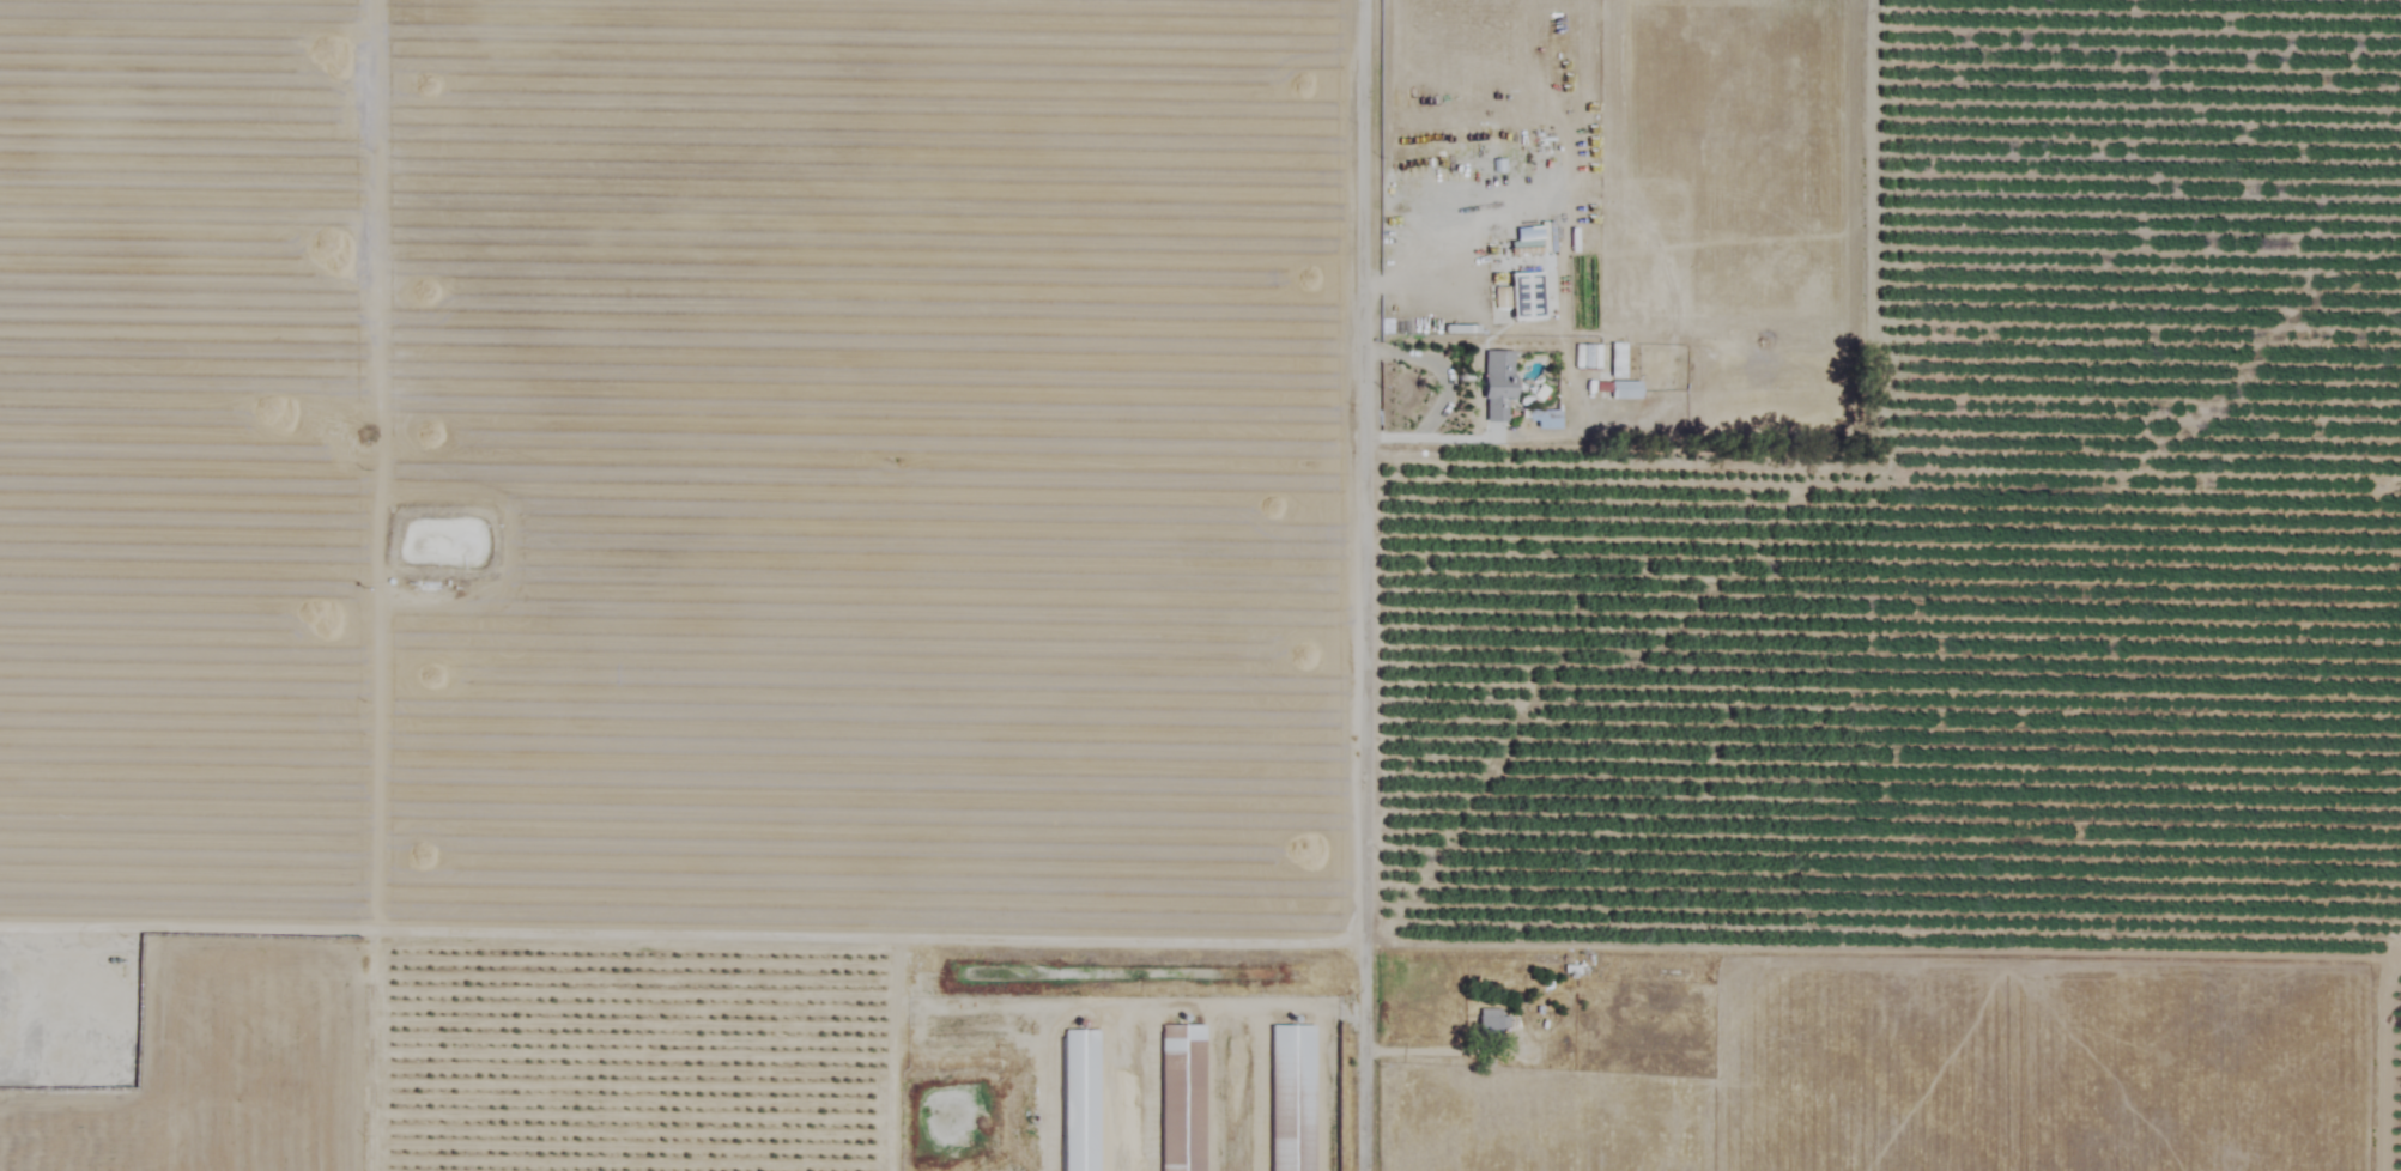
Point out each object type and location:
building: (1524, 297)
building: (1588, 357)
building: (1618, 360)
building: (1498, 386)
building: (1625, 390)
road: (1843, 450)
crop: (1106, 547)
road: (1365, 584)
building: (1575, 972)
building: (90, 976)
building: (1493, 1024)
building: (1183, 1098)
building: (1292, 1098)
building: (1080, 1100)

